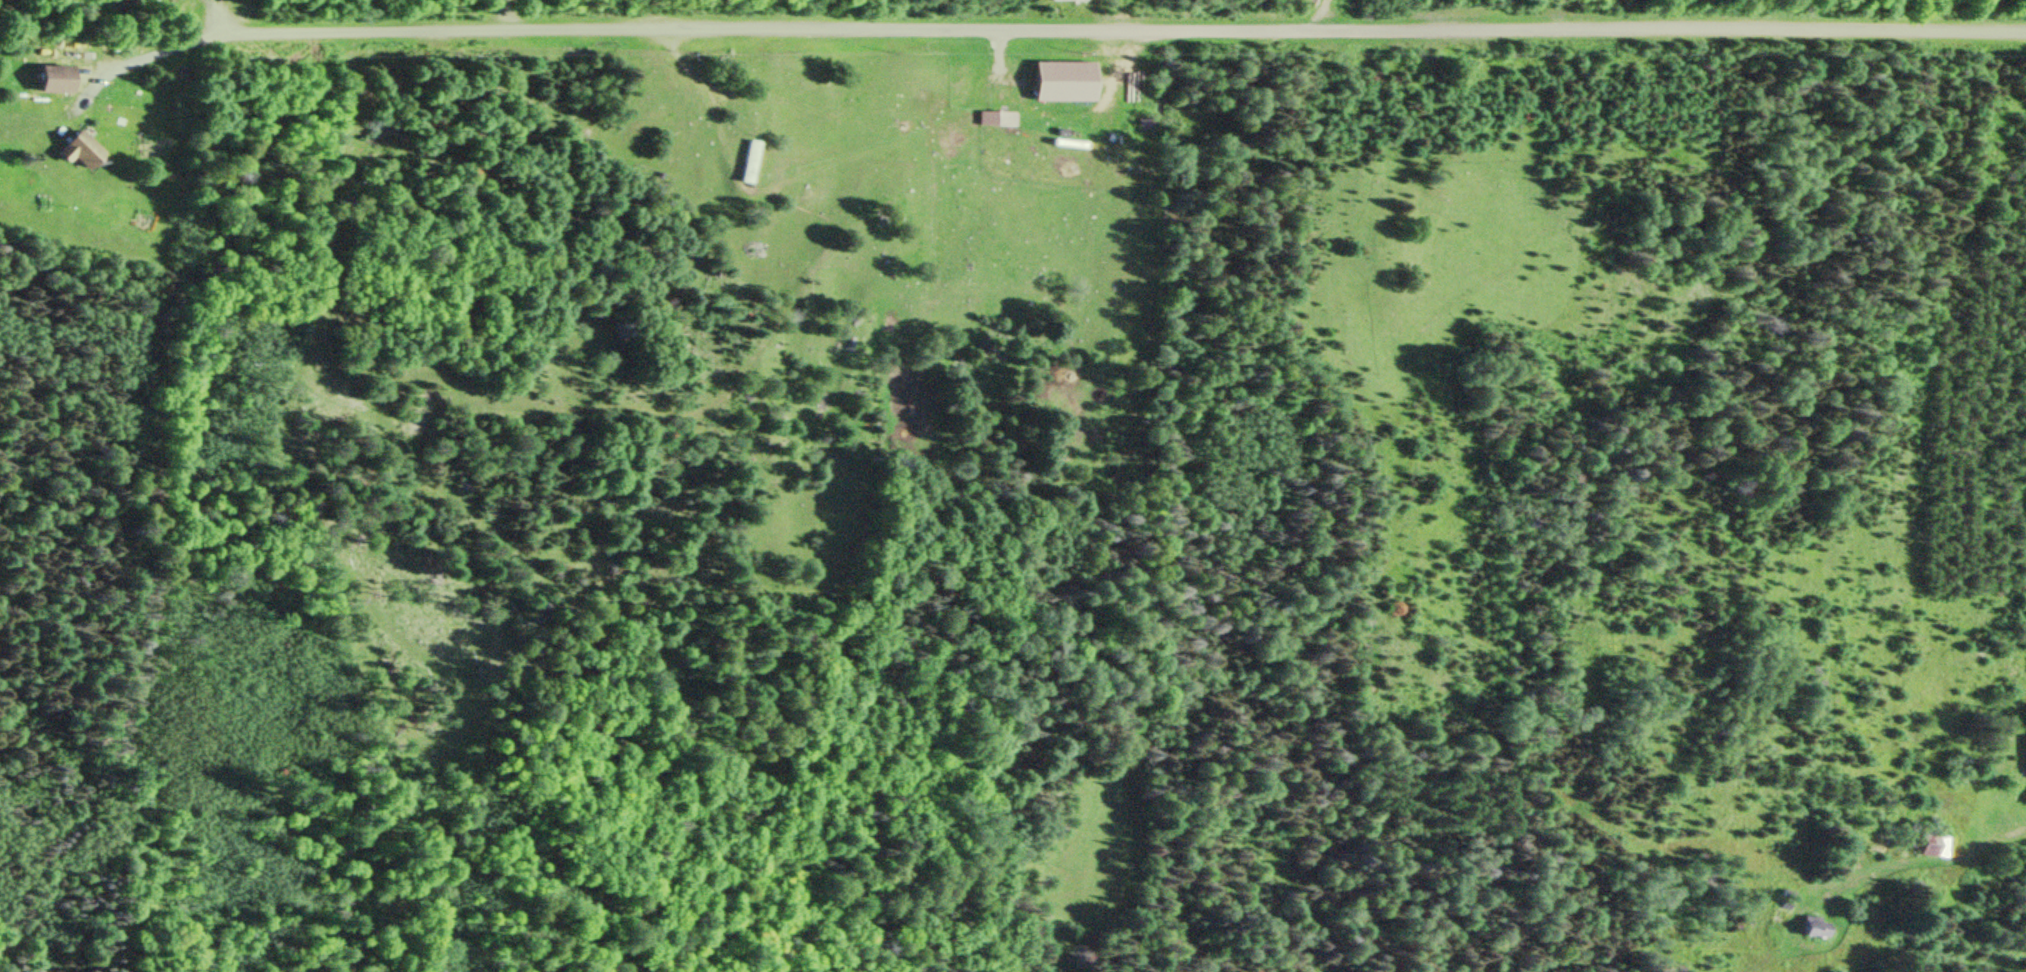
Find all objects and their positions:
building: (1069, 0)
road: (1055, 33)
building: (56, 80)
building: (1068, 80)
building: (81, 149)
building: (747, 161)
building: (2025, 771)

